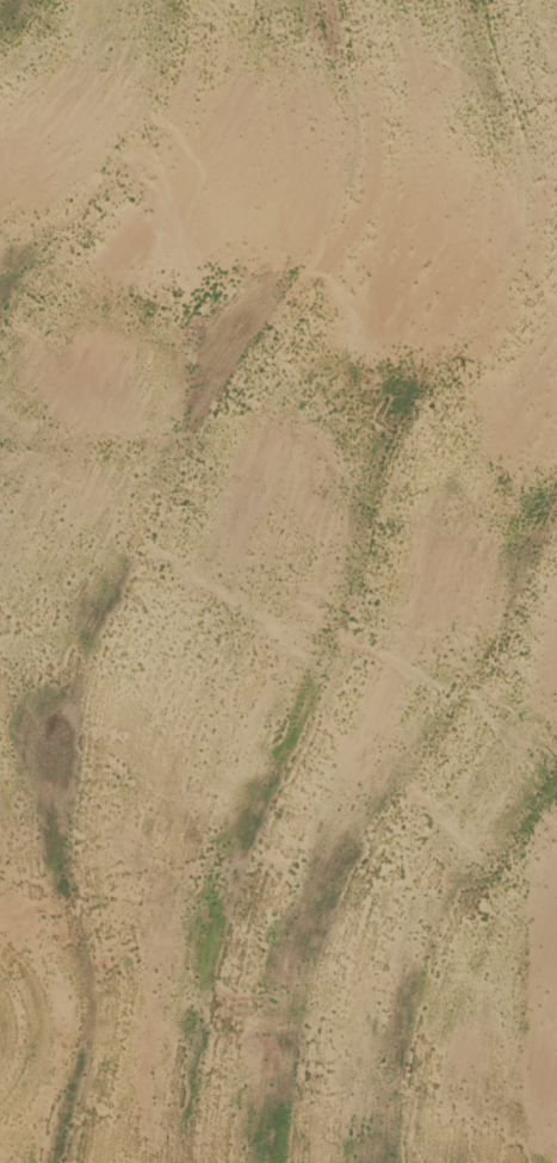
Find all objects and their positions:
building: (555, 6)

